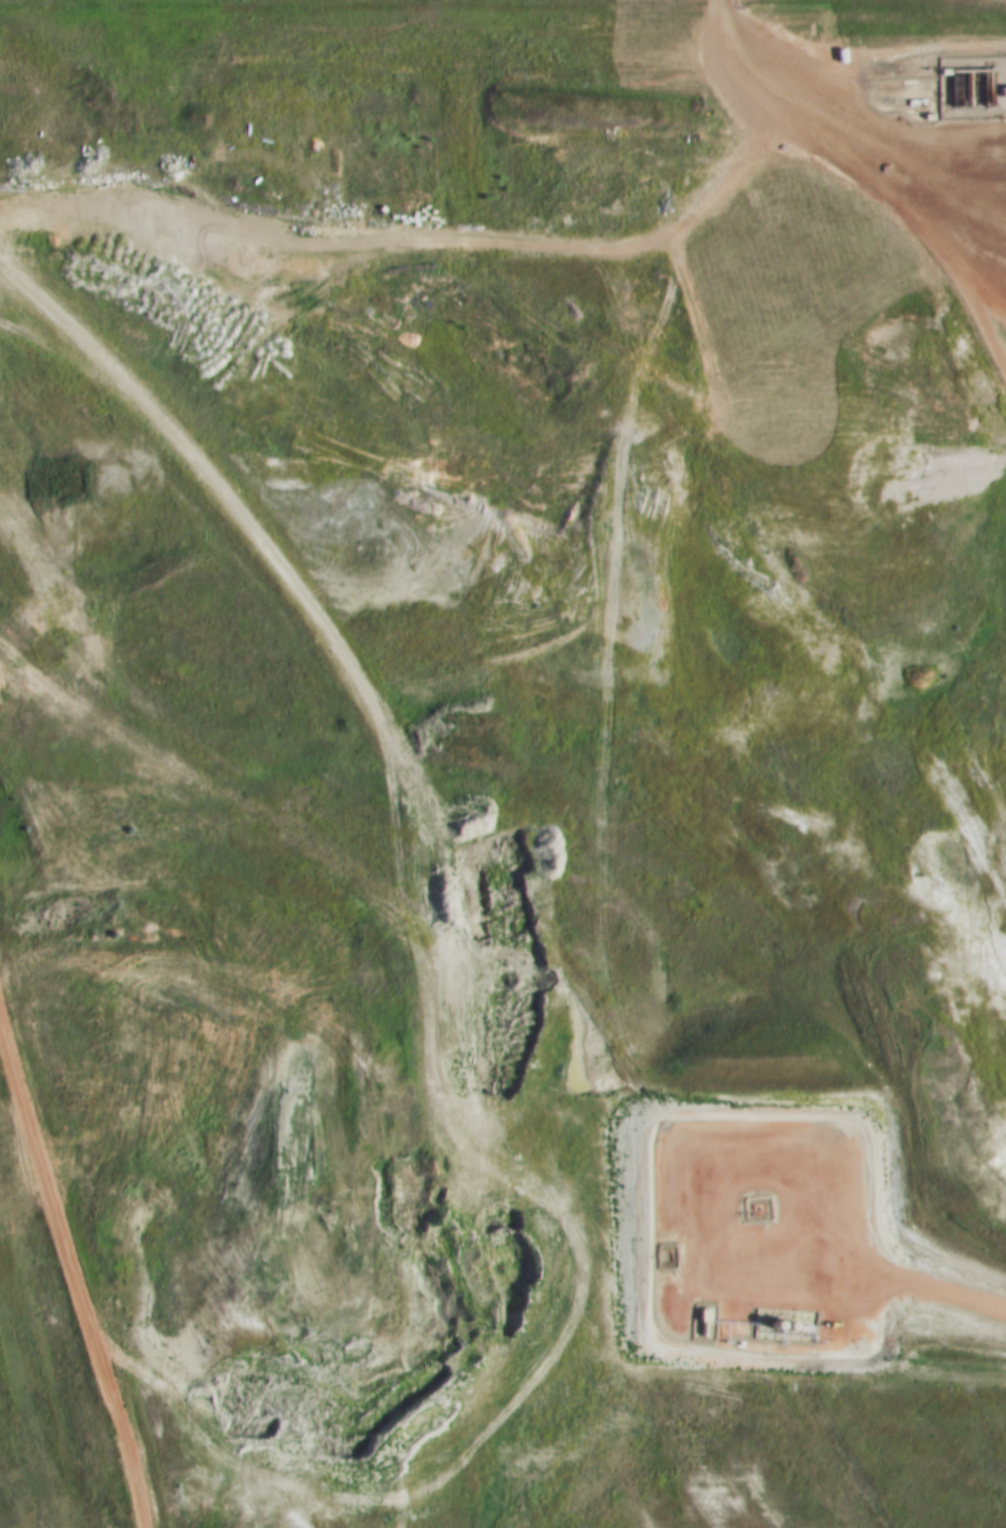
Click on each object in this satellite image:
road: (801, 48)
quarry: (200, 305)
quarry: (84, 1341)
road: (19, 1511)

